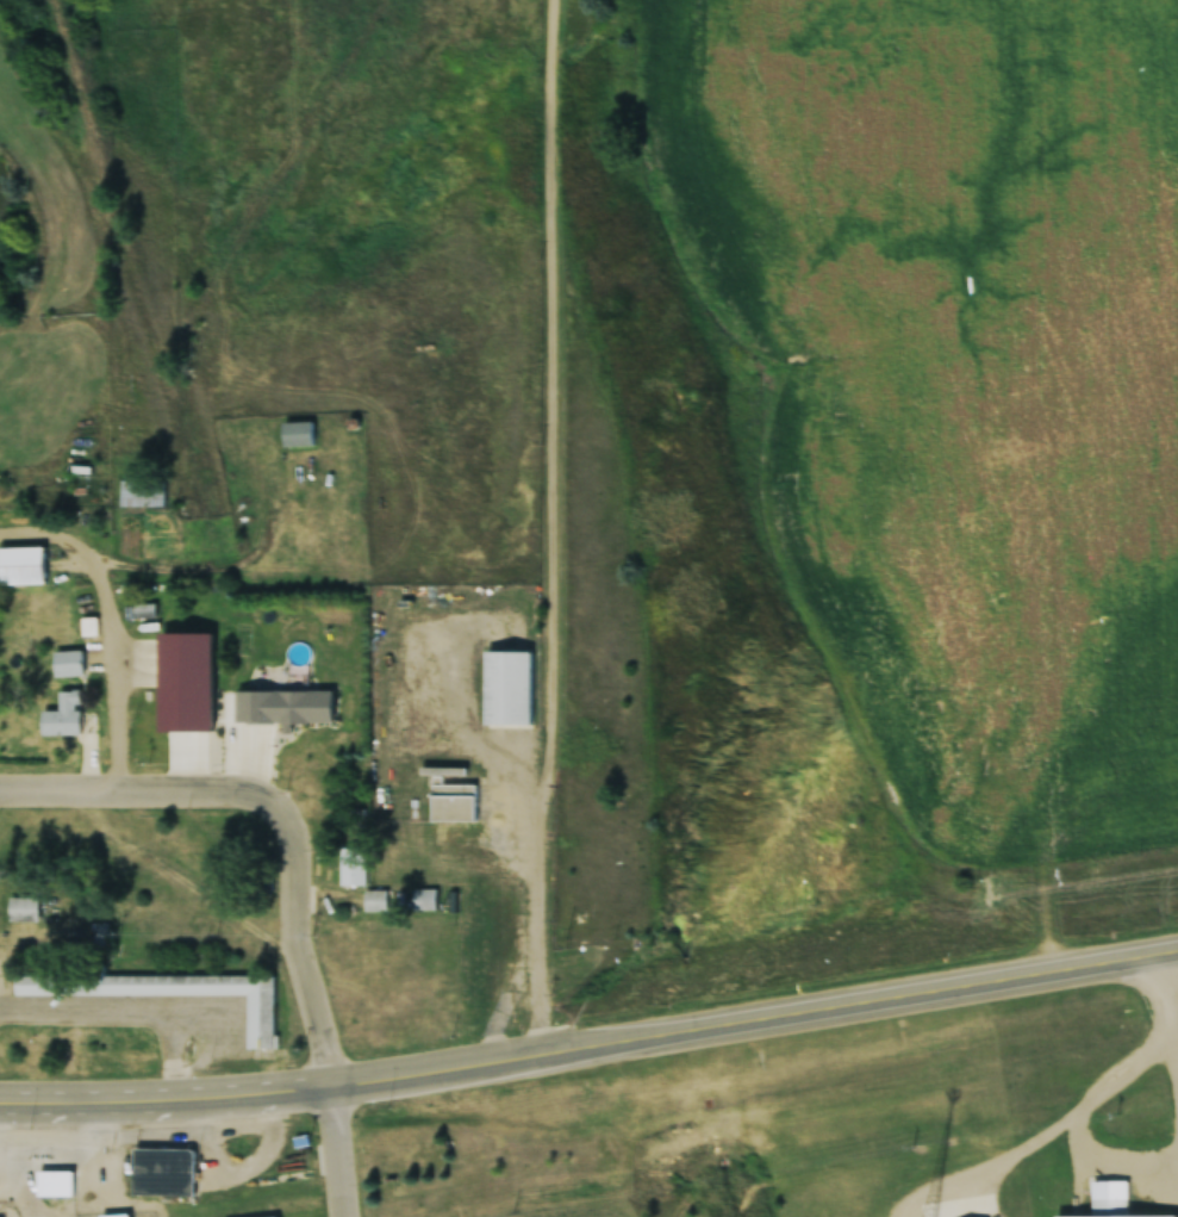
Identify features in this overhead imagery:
building: (298, 434)
building: (142, 495)
road: (547, 526)
building: (21, 567)
road: (110, 625)
building: (68, 665)
building: (507, 690)
building: (283, 707)
building: (156, 710)
building: (63, 716)
building: (158, 729)
building: (453, 803)
road: (276, 808)
building: (353, 867)
building: (379, 900)
building: (424, 900)
building: (485, 904)
building: (23, 909)
building: (479, 950)
building: (169, 994)
road: (875, 996)
building: (473, 1000)
road: (435, 1066)
road: (260, 1091)
road: (111, 1100)
road: (337, 1150)
building: (163, 1173)
building: (56, 1185)
building: (1109, 1207)

